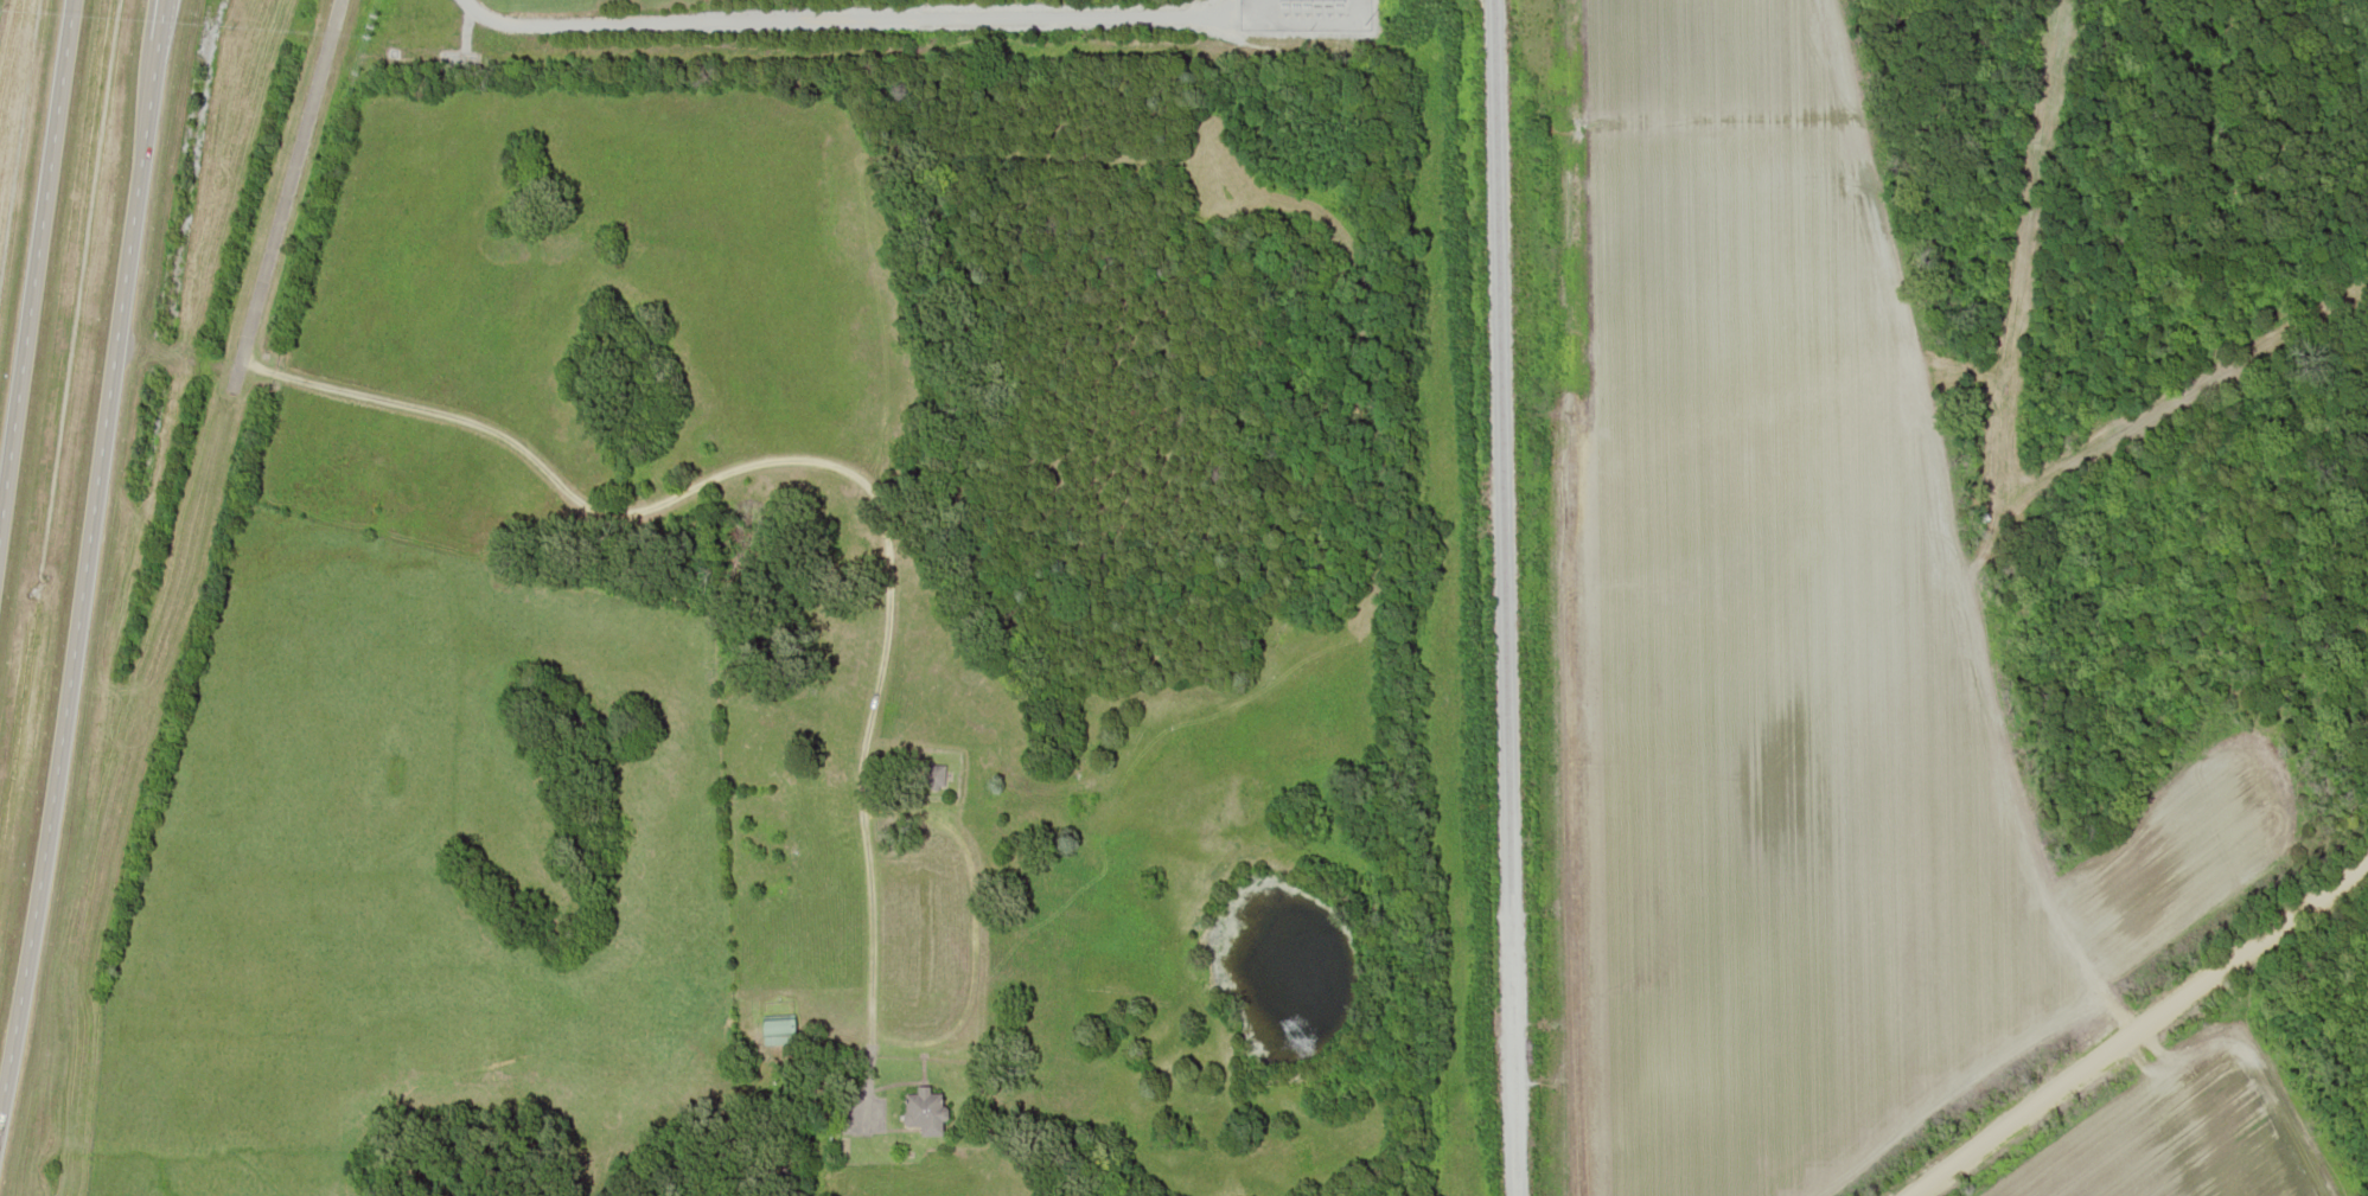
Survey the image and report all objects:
road: (843, 19)
road: (286, 184)
road: (34, 249)
road: (784, 459)
road: (89, 557)
railway: (1501, 597)
building: (930, 774)
building: (778, 1026)
road: (2138, 1031)
building: (924, 1109)

